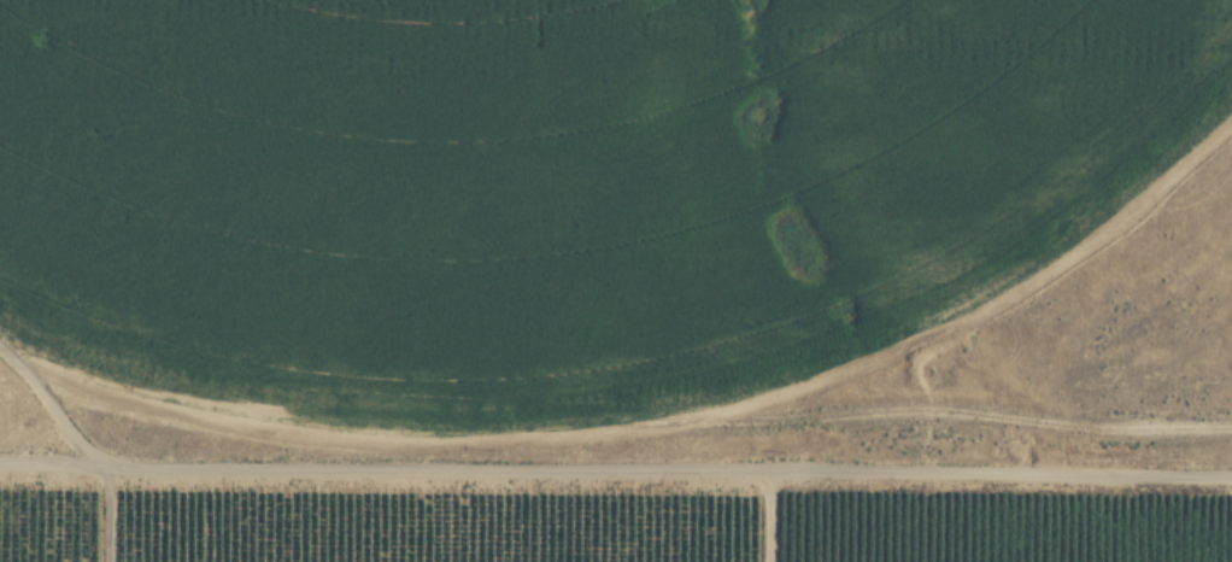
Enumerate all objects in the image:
crop: (582, 217)

